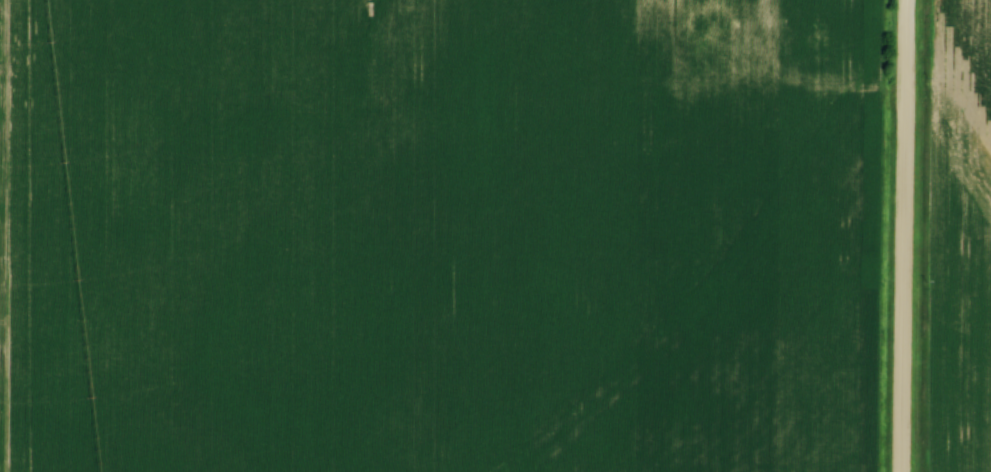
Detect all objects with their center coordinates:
road: (904, 236)

